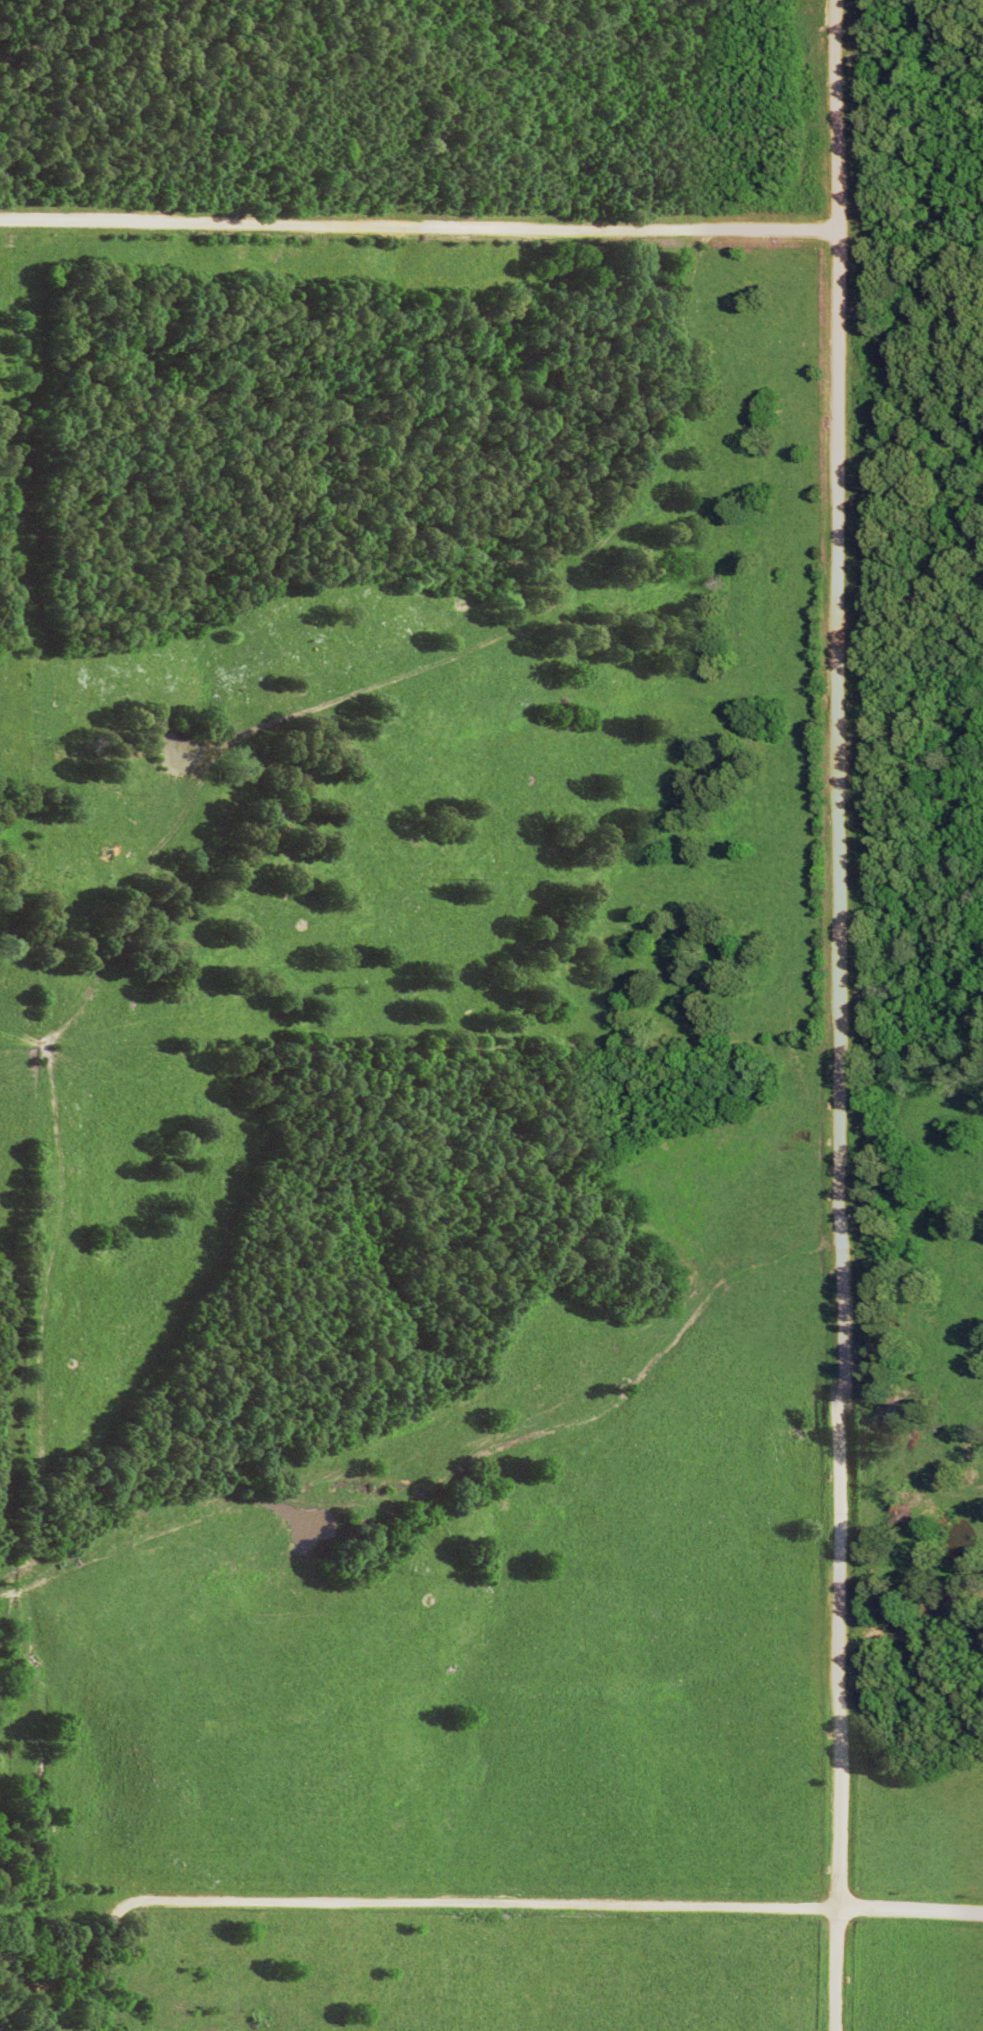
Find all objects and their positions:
road: (417, 227)
park: (909, 505)
road: (836, 1015)
road: (472, 1902)

